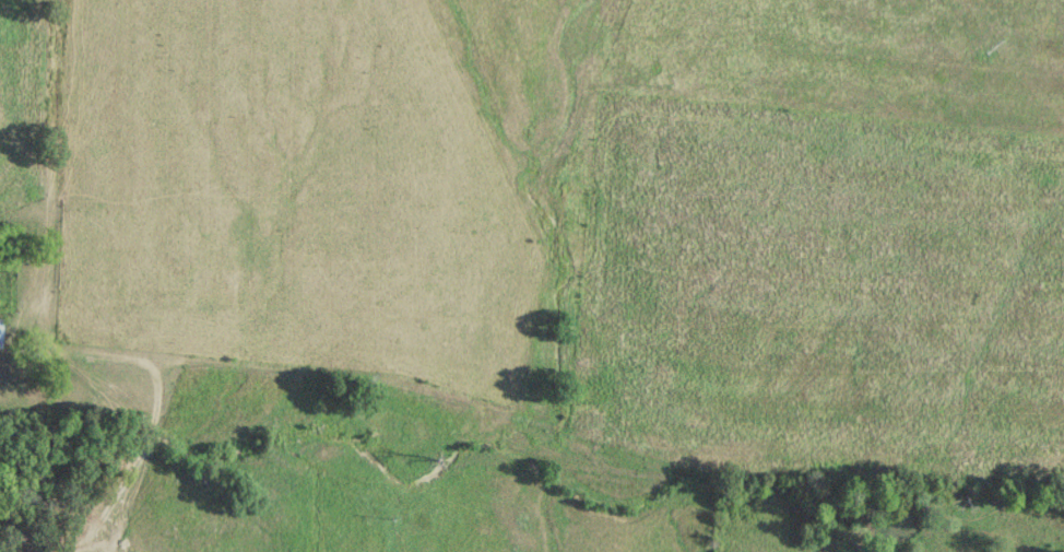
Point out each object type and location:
building: (2, 333)
road: (145, 423)

